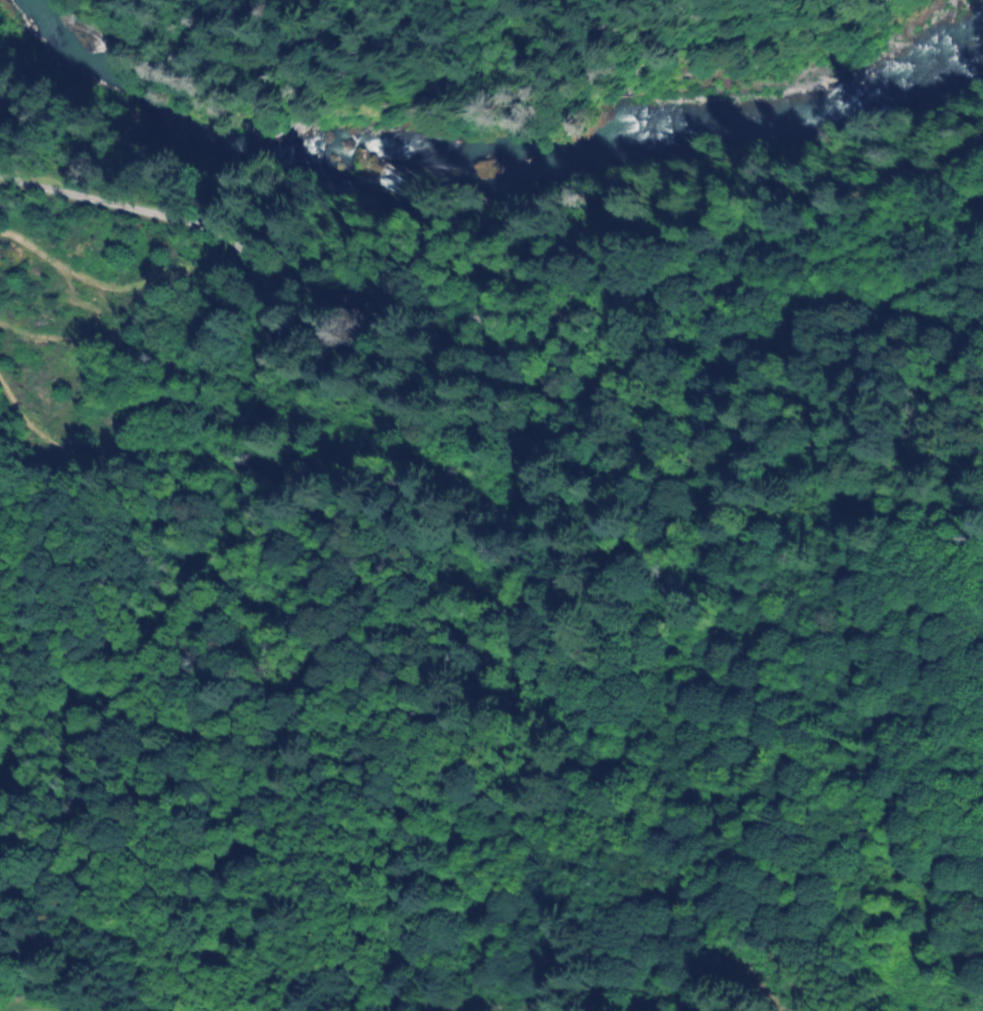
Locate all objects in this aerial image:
river: (489, 174)
road: (476, 313)

